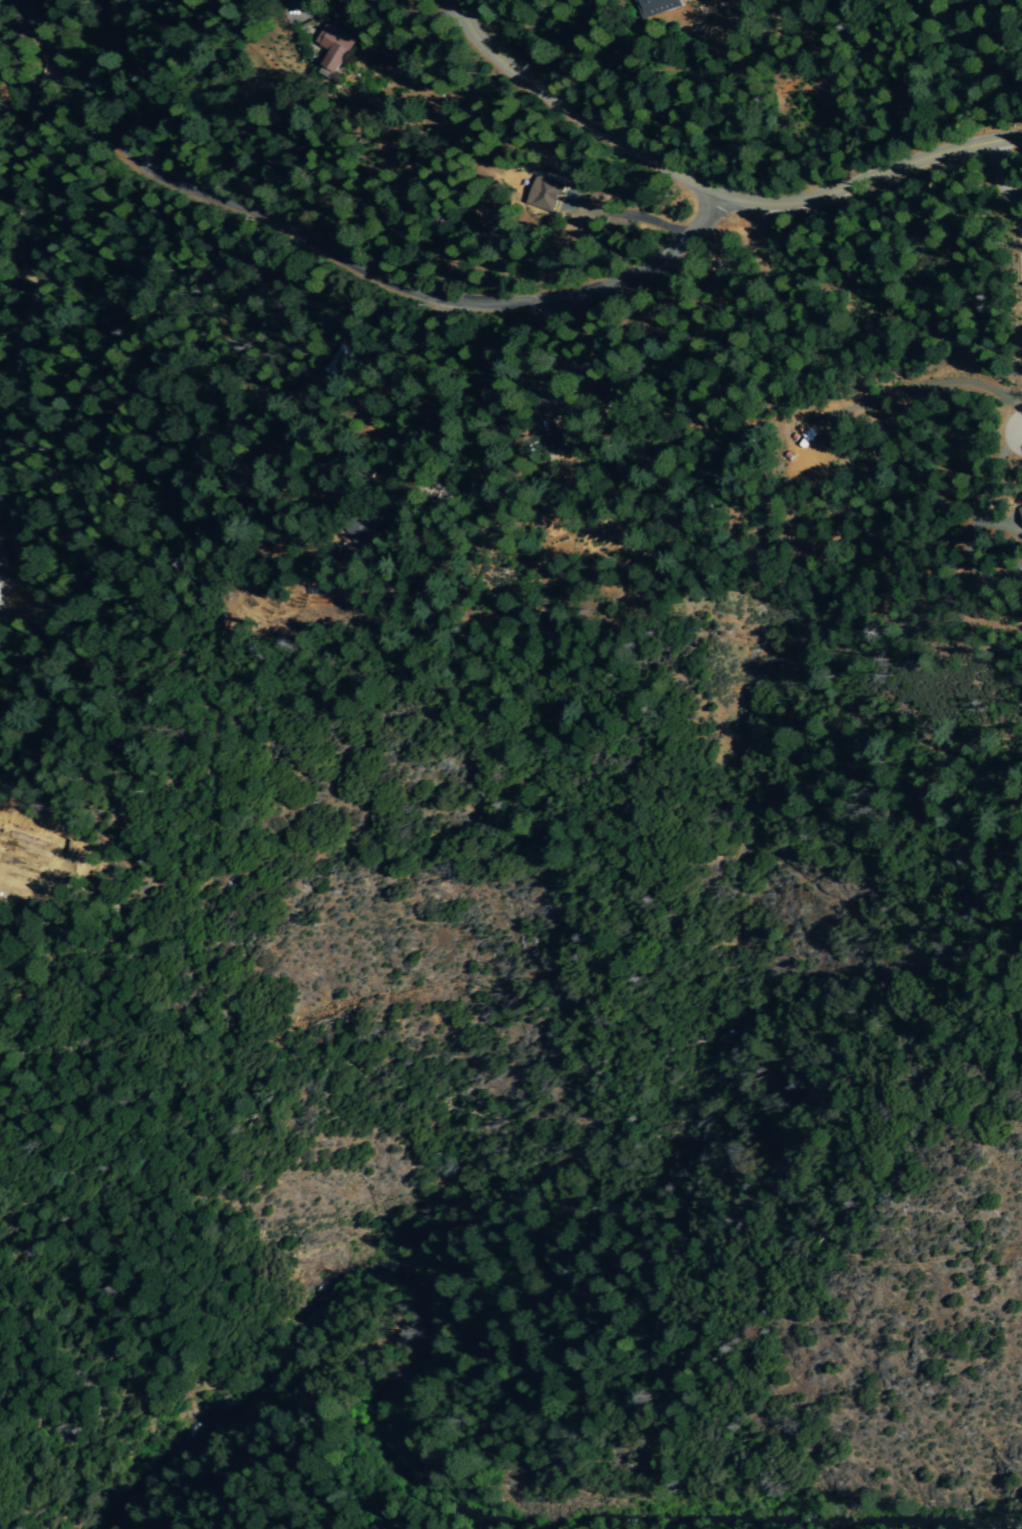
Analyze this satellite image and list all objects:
building: (665, 6)
building: (335, 50)
road: (715, 187)
road: (1006, 190)
building: (546, 196)
road: (343, 258)
road: (1020, 365)

